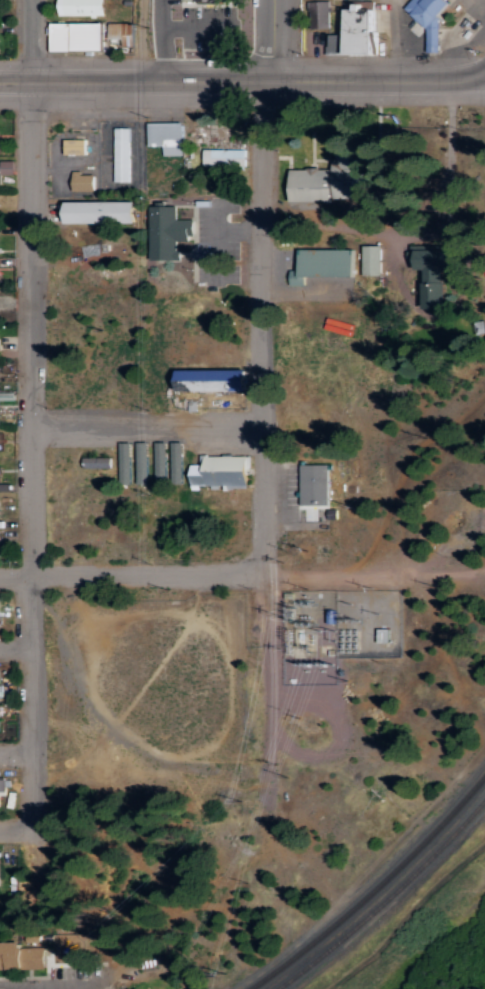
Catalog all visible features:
building: (209, 0)
building: (83, 7)
building: (428, 10)
building: (123, 33)
building: (433, 37)
road: (144, 40)
road: (484, 71)
road: (484, 72)
road: (242, 81)
building: (162, 136)
building: (70, 145)
building: (118, 153)
building: (220, 157)
building: (6, 167)
building: (77, 180)
building: (315, 183)
building: (92, 211)
building: (162, 231)
building: (367, 259)
building: (316, 263)
road: (265, 287)
building: (429, 289)
building: (5, 302)
building: (203, 379)
road: (31, 420)
road: (147, 426)
building: (92, 461)
building: (173, 462)
building: (1, 469)
building: (216, 471)
building: (310, 484)
road: (200, 571)
building: (1, 619)
road: (273, 628)
road: (15, 647)
park: (145, 680)
building: (2, 691)
road: (16, 750)
building: (6, 785)
building: (0, 869)
railway: (371, 887)
railway: (386, 898)
building: (22, 956)
building: (140, 987)

